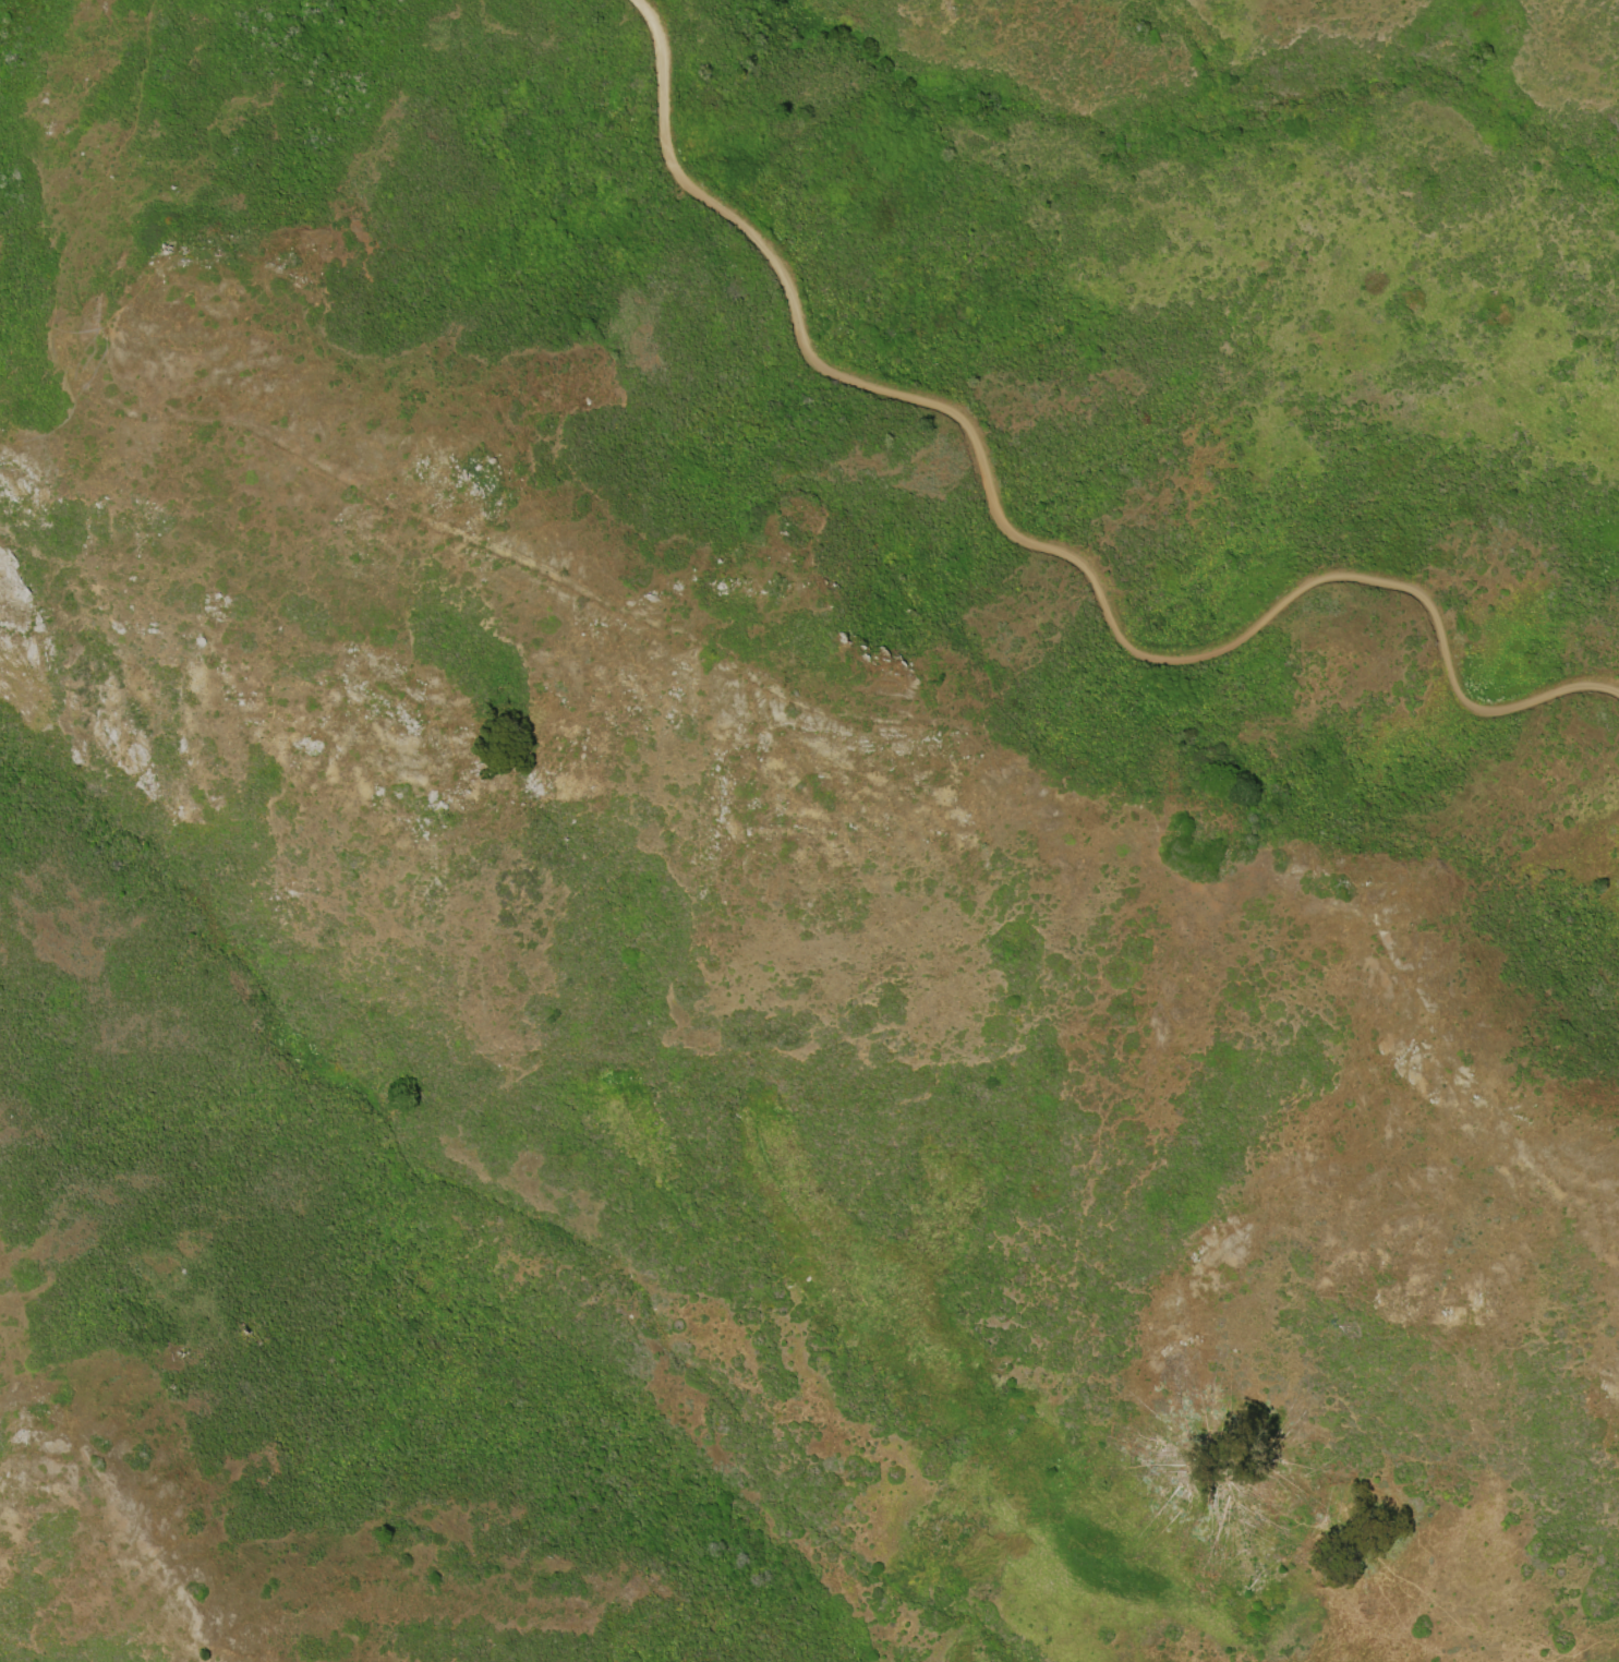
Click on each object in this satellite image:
road: (1043, 546)

